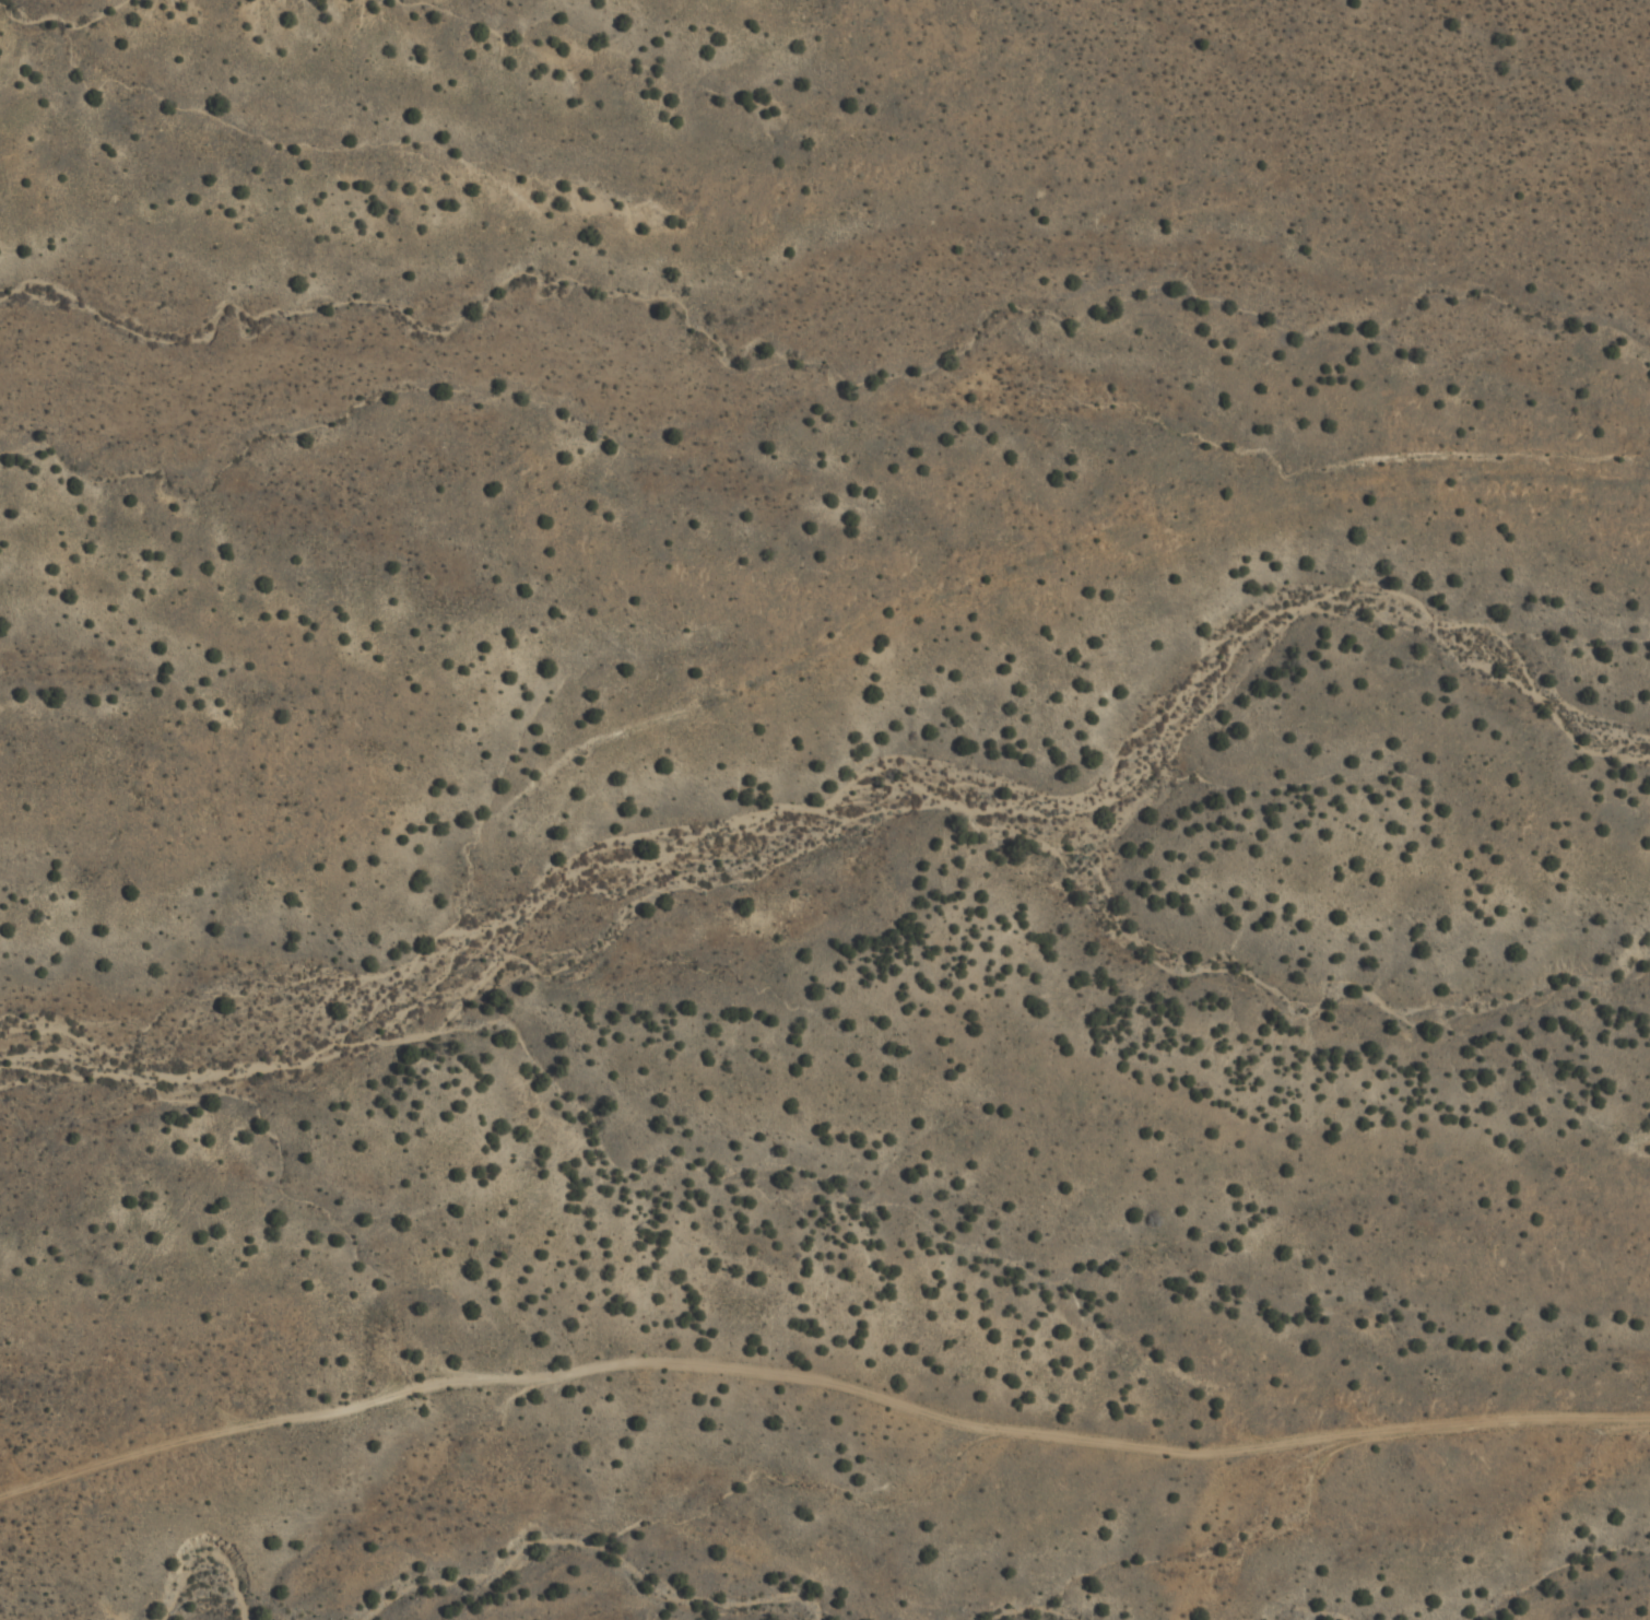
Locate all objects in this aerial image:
road: (818, 1393)

